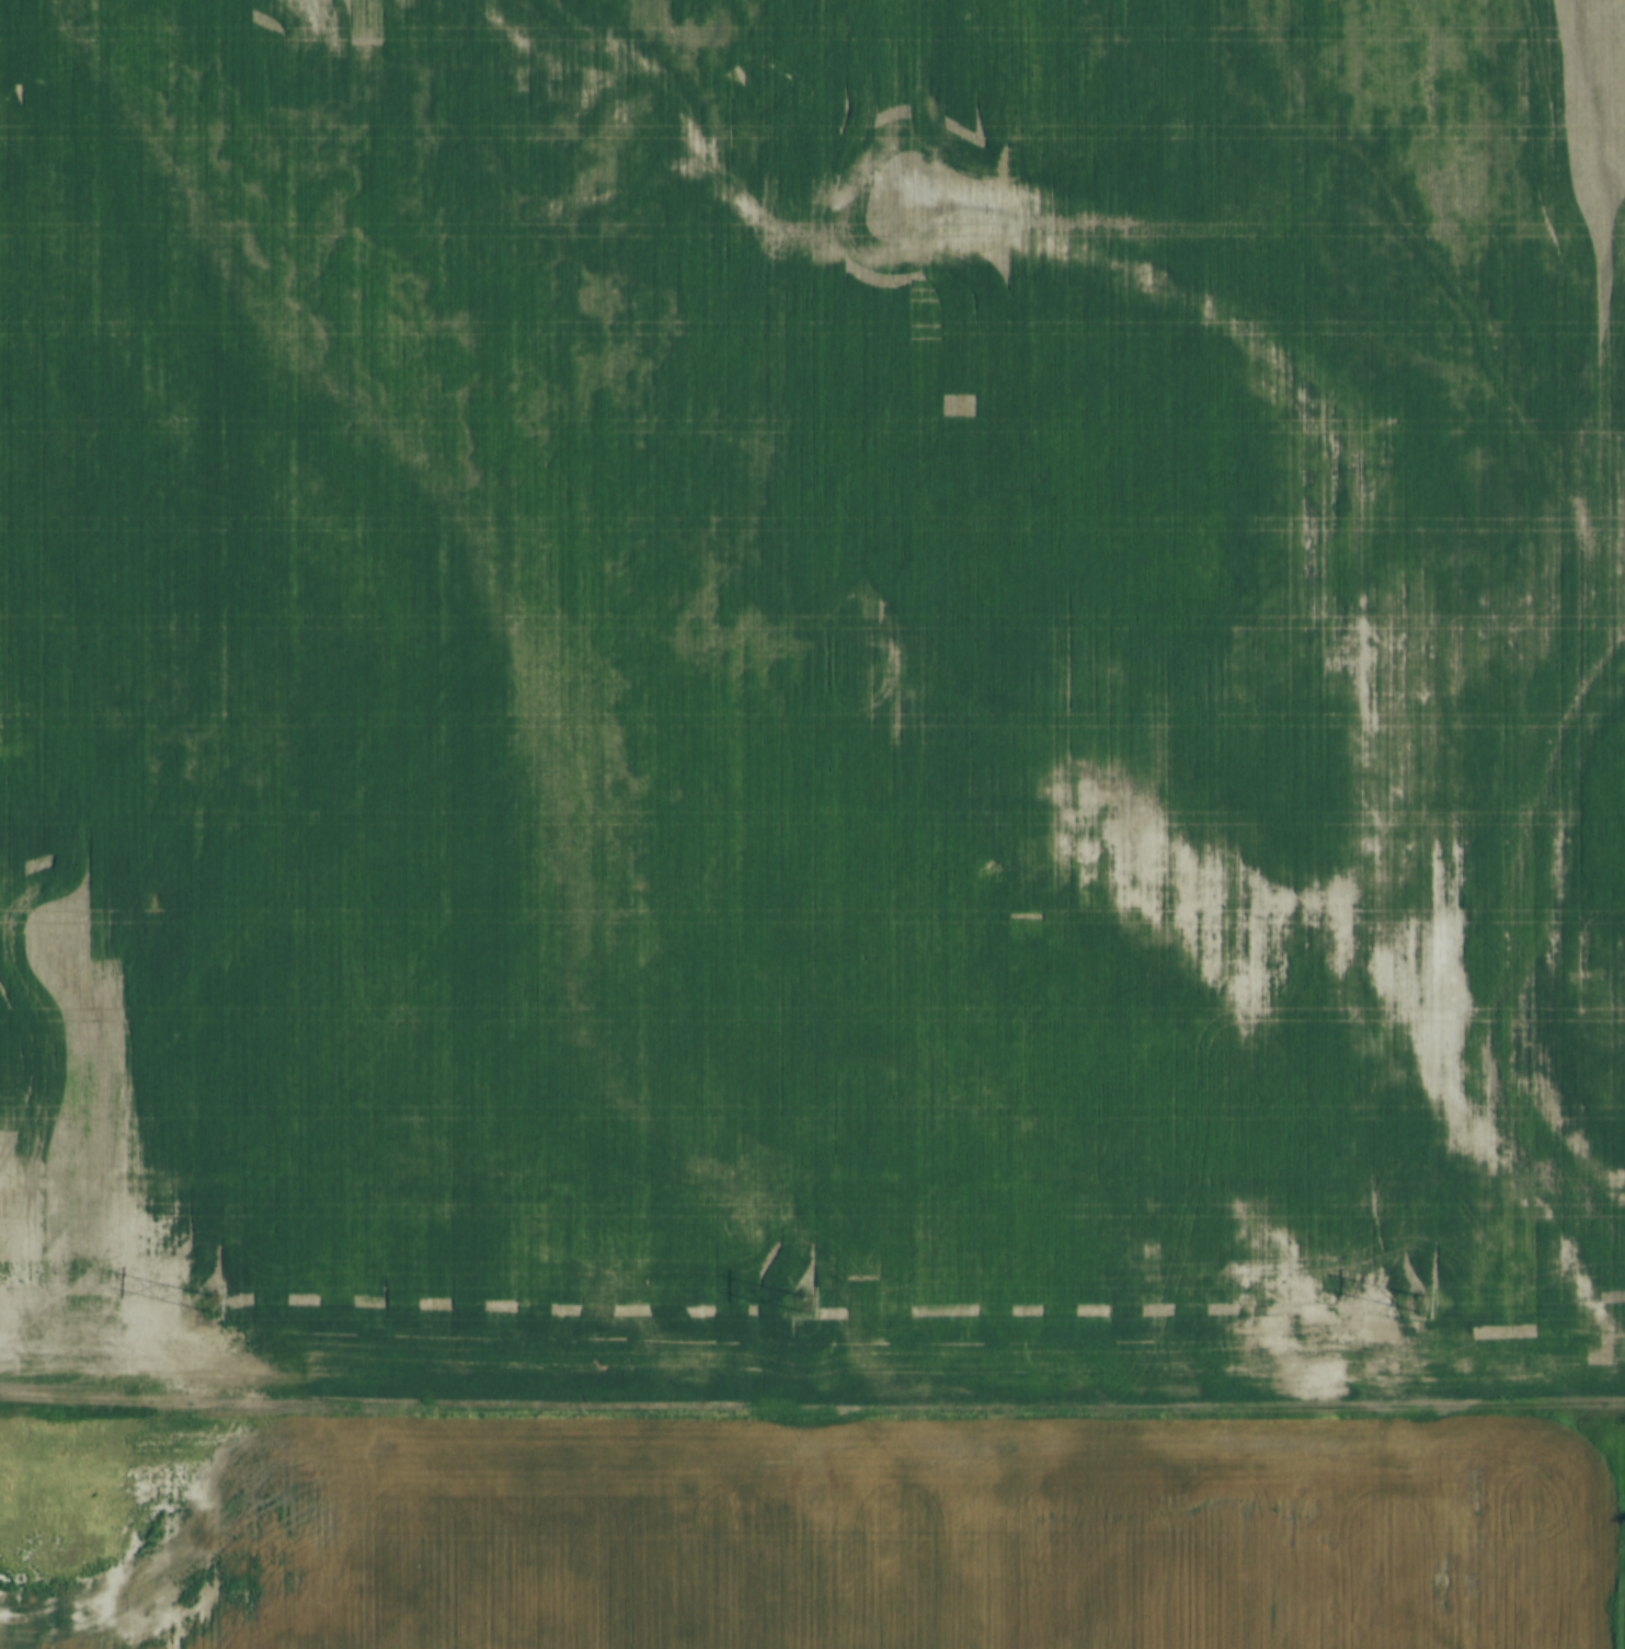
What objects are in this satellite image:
power tower: (1406, 1290)
power tower: (793, 1297)
power tower: (205, 1303)
road: (812, 1395)

